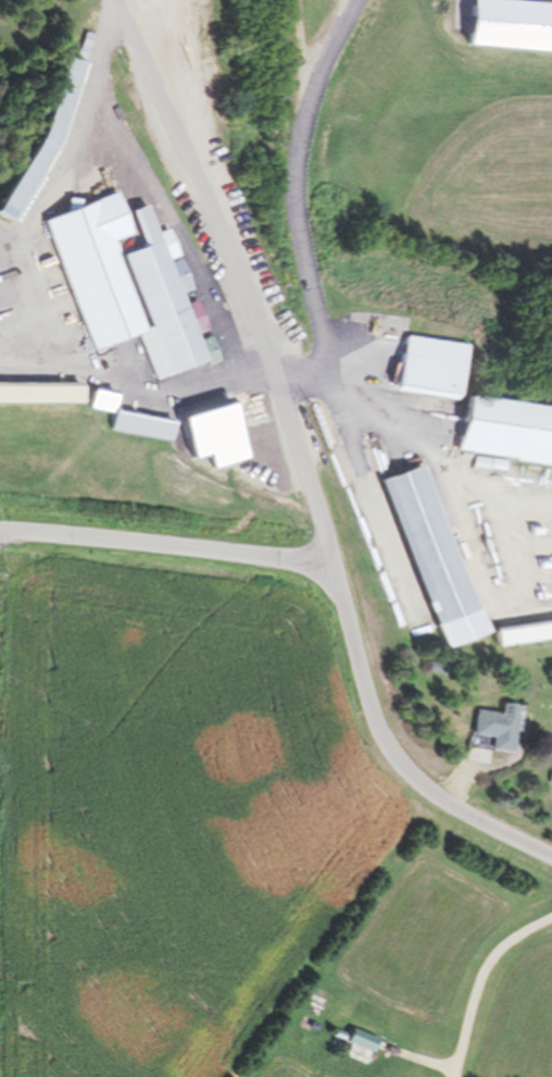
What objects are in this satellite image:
building: (511, 25)
building: (128, 283)
building: (427, 368)
building: (40, 393)
building: (102, 400)
building: (213, 425)
building: (141, 426)
building: (507, 432)
road: (305, 458)
road: (166, 543)
building: (437, 557)
building: (524, 634)
building: (499, 729)
building: (551, 781)
road: (484, 983)
building: (366, 1039)

